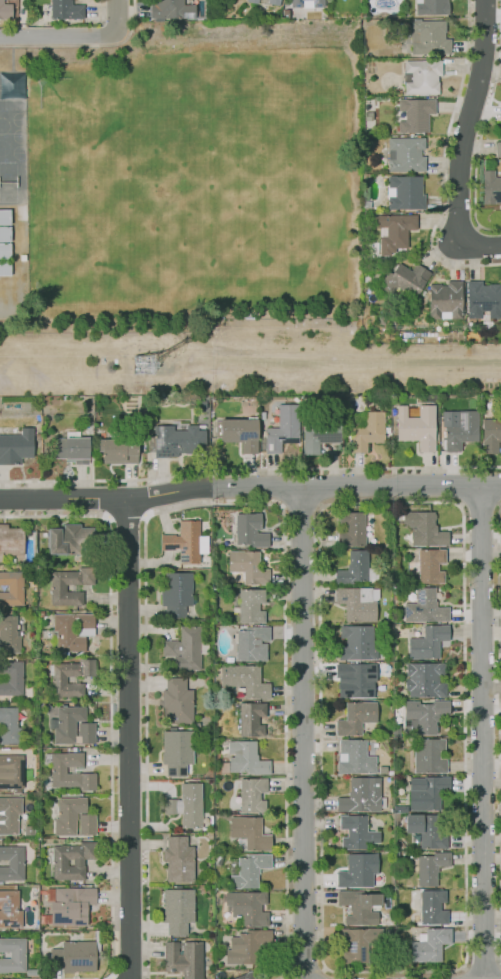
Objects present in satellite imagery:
building: (252, 1)
building: (273, 2)
building: (307, 3)
building: (431, 7)
building: (171, 9)
building: (6, 10)
building: (66, 12)
road: (116, 16)
road: (99, 18)
road: (500, 20)
road: (56, 36)
building: (428, 37)
road: (83, 45)
building: (421, 76)
building: (415, 114)
road: (463, 138)
road: (479, 144)
building: (497, 145)
building: (405, 154)
road: (444, 161)
building: (490, 188)
building: (404, 192)
building: (396, 230)
building: (4, 241)
building: (405, 280)
building: (482, 299)
building: (445, 300)
power tower: (145, 366)
building: (337, 401)
building: (262, 415)
building: (416, 427)
building: (283, 428)
building: (459, 428)
building: (367, 430)
building: (238, 433)
building: (320, 434)
building: (490, 435)
building: (178, 440)
building: (16, 446)
building: (71, 450)
building: (118, 451)
road: (250, 469)
road: (461, 486)
road: (249, 487)
road: (319, 487)
road: (283, 488)
road: (218, 504)
road: (480, 506)
road: (301, 507)
building: (351, 529)
building: (424, 529)
building: (250, 530)
building: (11, 540)
building: (70, 540)
building: (183, 542)
building: (430, 565)
building: (248, 566)
building: (356, 569)
building: (11, 587)
building: (57, 588)
building: (175, 594)
building: (358, 602)
building: (249, 605)
building: (425, 607)
building: (70, 630)
building: (8, 634)
building: (428, 642)
building: (252, 643)
building: (357, 643)
building: (183, 648)
building: (229, 659)
building: (10, 677)
building: (58, 679)
building: (355, 679)
building: (245, 680)
building: (425, 680)
building: (176, 700)
building: (423, 716)
building: (356, 717)
building: (251, 719)
building: (67, 723)
building: (8, 725)
road: (499, 732)
building: (86, 733)
road: (301, 733)
road: (480, 733)
road: (127, 740)
building: (176, 751)
building: (429, 756)
building: (355, 757)
building: (246, 758)
building: (57, 770)
building: (11, 771)
building: (427, 792)
building: (252, 795)
building: (361, 795)
building: (186, 805)
building: (400, 809)
building: (9, 814)
building: (68, 814)
building: (85, 824)
building: (427, 829)
building: (356, 832)
building: (249, 833)
building: (177, 858)
building: (71, 860)
building: (218, 860)
building: (11, 863)
building: (431, 867)
building: (247, 870)
building: (358, 870)
building: (222, 887)
building: (70, 906)
building: (248, 907)
building: (360, 907)
building: (433, 907)
building: (9, 909)
building: (177, 909)
building: (354, 945)
building: (429, 945)
building: (250, 947)
building: (12, 954)
building: (72, 956)
building: (183, 958)
road: (324, 966)
road: (482, 966)
road: (464, 972)
building: (245, 976)

